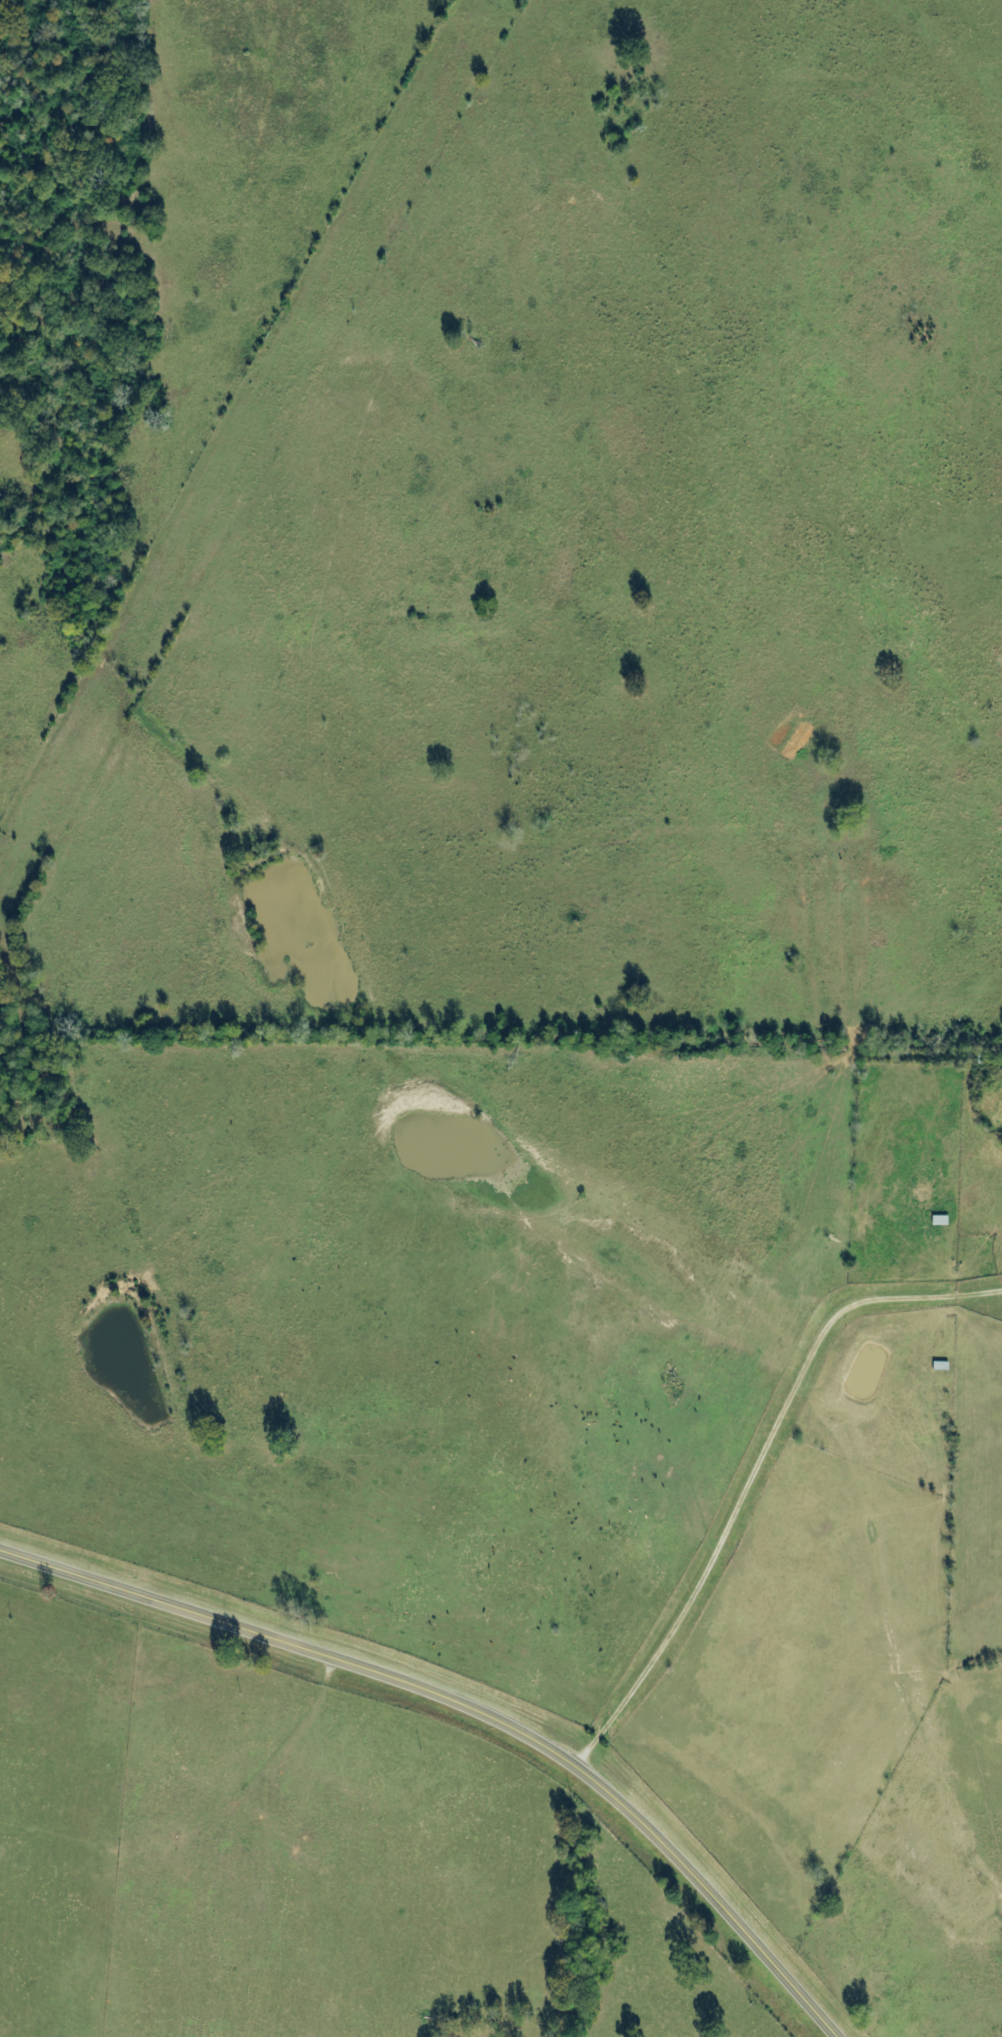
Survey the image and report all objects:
road: (22, 1009)
road: (754, 1502)
road: (478, 1701)

